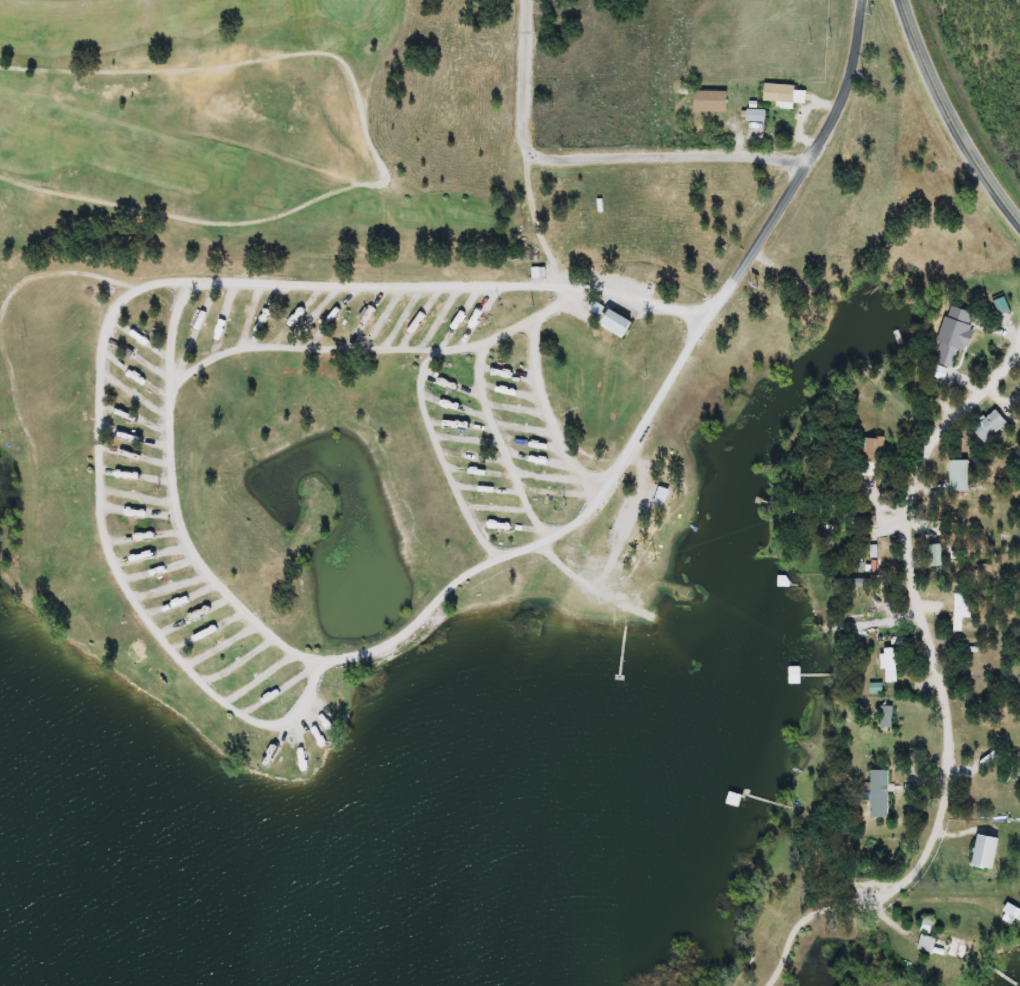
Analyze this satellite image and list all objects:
building: (786, 95)
building: (758, 116)
road: (951, 116)
road: (592, 151)
road: (805, 159)
building: (620, 323)
building: (949, 354)
building: (992, 426)
building: (873, 449)
building: (962, 475)
building: (938, 555)
road: (116, 565)
building: (964, 610)
building: (892, 664)
building: (888, 717)
building: (997, 733)
building: (882, 794)
building: (736, 799)
building: (988, 852)
building: (1014, 911)
building: (943, 946)

